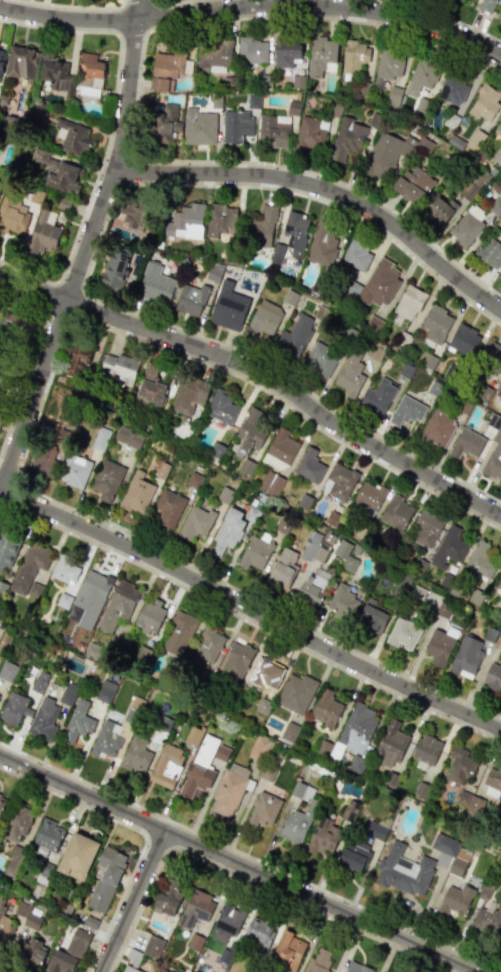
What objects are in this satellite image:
road: (165, 1)
road: (135, 3)
building: (486, 4)
road: (254, 6)
road: (72, 7)
building: (499, 14)
road: (151, 15)
road: (441, 15)
road: (117, 21)
road: (49, 29)
road: (133, 33)
building: (252, 51)
building: (0, 54)
building: (214, 55)
building: (287, 55)
building: (355, 55)
building: (322, 57)
building: (20, 62)
building: (391, 64)
building: (1, 66)
building: (88, 70)
building: (166, 71)
building: (56, 75)
building: (421, 77)
road: (138, 86)
building: (453, 90)
building: (393, 96)
building: (3, 99)
building: (253, 102)
building: (485, 103)
building: (293, 108)
building: (39, 111)
building: (451, 120)
building: (164, 124)
building: (236, 126)
building: (199, 127)
building: (498, 129)
building: (273, 131)
building: (310, 134)
building: (70, 136)
building: (347, 140)
building: (385, 155)
street lamp: (256, 159)
road: (124, 171)
building: (56, 172)
road: (93, 180)
building: (413, 184)
building: (1, 185)
street lamp: (170, 186)
road: (324, 188)
building: (35, 196)
road: (329, 203)
building: (63, 204)
building: (440, 210)
building: (12, 215)
building: (131, 217)
building: (221, 220)
street lamp: (357, 220)
building: (185, 222)
building: (467, 225)
building: (261, 228)
building: (44, 232)
building: (295, 232)
building: (323, 244)
road: (84, 248)
building: (277, 253)
building: (489, 253)
building: (356, 256)
street lamp: (461, 264)
building: (114, 269)
building: (214, 272)
building: (155, 283)
building: (380, 283)
road: (49, 294)
building: (191, 299)
building: (409, 302)
building: (228, 307)
building: (264, 319)
building: (373, 322)
building: (436, 324)
building: (15, 328)
building: (295, 336)
building: (464, 339)
road: (33, 354)
building: (490, 357)
building: (320, 359)
building: (78, 361)
building: (119, 368)
building: (405, 370)
road: (260, 374)
building: (349, 375)
building: (151, 385)
building: (188, 396)
building: (378, 397)
building: (222, 406)
building: (407, 411)
building: (1, 414)
building: (437, 429)
building: (249, 432)
building: (129, 437)
building: (100, 438)
building: (466, 443)
building: (280, 448)
building: (216, 451)
building: (48, 455)
building: (494, 457)
building: (247, 466)
building: (309, 466)
building: (161, 470)
building: (74, 471)
building: (106, 479)
building: (193, 480)
building: (339, 481)
building: (270, 483)
building: (137, 493)
building: (224, 495)
building: (367, 499)
building: (168, 509)
building: (397, 512)
building: (195, 523)
building: (426, 528)
building: (227, 532)
building: (309, 545)
building: (449, 547)
building: (7, 549)
building: (255, 552)
building: (320, 552)
building: (345, 555)
building: (480, 560)
building: (29, 566)
building: (283, 568)
building: (64, 569)
building: (498, 582)
building: (400, 585)
building: (313, 586)
building: (2, 588)
building: (34, 590)
building: (91, 596)
building: (63, 600)
building: (342, 601)
building: (118, 605)
road: (250, 609)
building: (149, 616)
building: (500, 616)
building: (374, 619)
road: (250, 622)
building: (403, 633)
building: (178, 637)
building: (207, 643)
building: (124, 645)
building: (438, 647)
building: (95, 650)
building: (141, 655)
building: (465, 658)
building: (236, 659)
building: (73, 667)
building: (7, 671)
building: (265, 672)
building: (493, 675)
building: (38, 682)
building: (105, 692)
building: (295, 692)
building: (66, 697)
building: (262, 706)
building: (325, 708)
building: (14, 709)
building: (43, 718)
building: (79, 721)
building: (356, 727)
building: (117, 729)
building: (160, 729)
building: (289, 732)
building: (193, 735)
building: (390, 743)
building: (259, 748)
building: (321, 749)
building: (426, 749)
building: (336, 750)
building: (221, 753)
building: (135, 756)
building: (356, 764)
building: (459, 765)
building: (166, 766)
building: (200, 766)
building: (266, 772)
building: (493, 778)
building: (390, 779)
building: (421, 789)
building: (301, 790)
building: (227, 793)
building: (462, 798)
building: (2, 803)
building: (263, 809)
building: (349, 810)
building: (472, 810)
building: (17, 822)
building: (297, 824)
building: (375, 830)
road: (139, 832)
building: (48, 836)
building: (322, 838)
building: (444, 848)
building: (354, 853)
building: (78, 856)
road: (249, 857)
building: (13, 861)
road: (238, 863)
building: (458, 863)
building: (402, 870)
building: (44, 873)
building: (106, 878)
road: (245, 881)
building: (484, 890)
road: (130, 900)
building: (455, 900)
building: (168, 901)
building: (21, 908)
building: (196, 908)
building: (487, 918)
building: (32, 921)
building: (90, 922)
building: (227, 923)
building: (4, 927)
building: (260, 931)
building: (499, 936)
building: (153, 946)
building: (289, 950)
building: (31, 952)
building: (69, 953)
building: (318, 961)
building: (357, 967)
building: (131, 970)

